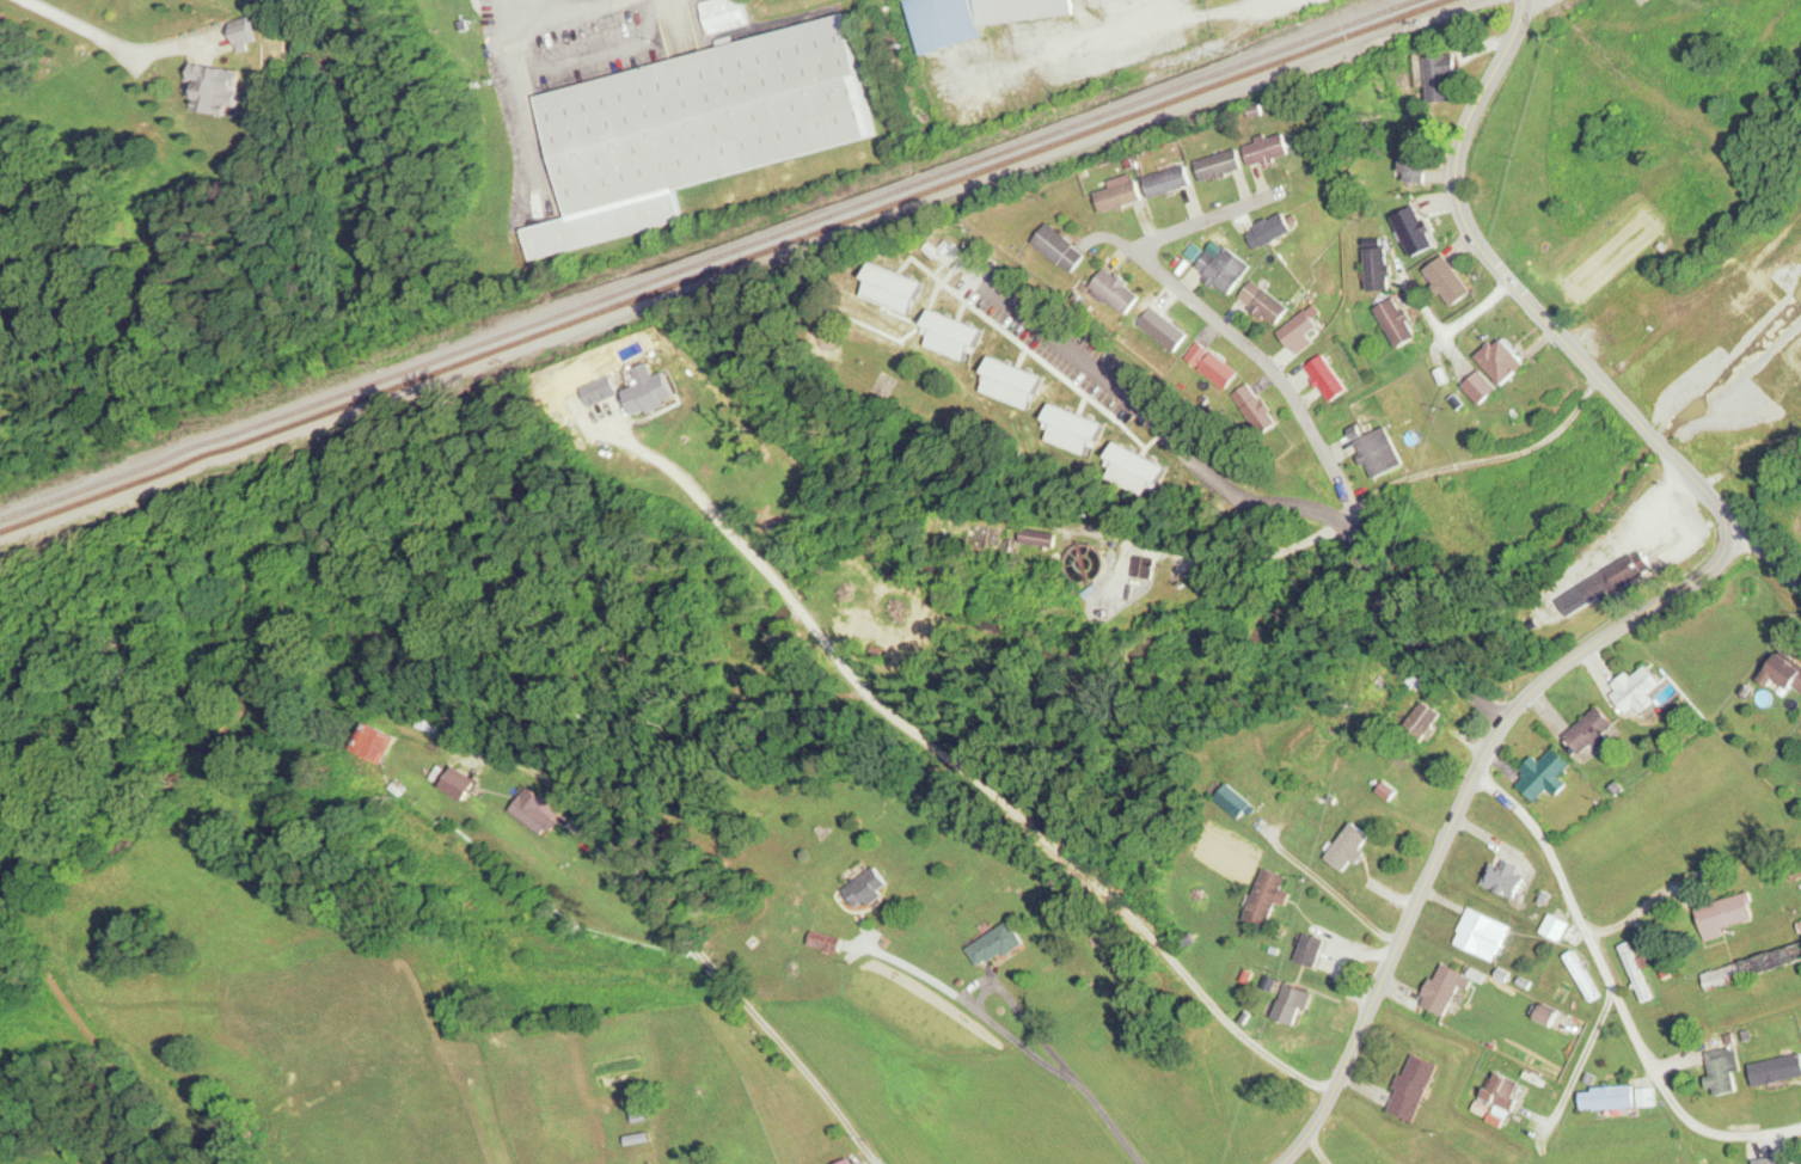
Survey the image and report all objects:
building: (723, 14)
road: (61, 22)
building: (249, 37)
building: (987, 51)
building: (1442, 78)
building: (216, 87)
building: (697, 129)
building: (1269, 149)
building: (1416, 160)
building: (1221, 165)
building: (1169, 180)
building: (1121, 196)
building: (1272, 231)
building: (1416, 231)
building: (1061, 249)
railway: (704, 259)
railway: (719, 265)
building: (1225, 268)
building: (1379, 269)
road: (1509, 280)
building: (1450, 281)
building: (895, 288)
building: (1117, 292)
building: (1266, 302)
building: (1399, 323)
road: (1452, 329)
building: (1165, 330)
building: (1303, 331)
building: (955, 337)
building: (1503, 360)
building: (1213, 366)
building: (1329, 378)
building: (1015, 384)
building: (1483, 387)
river: (1738, 394)
road: (1305, 416)
building: (1076, 431)
river: (1661, 439)
building: (1378, 451)
building: (1139, 468)
road: (1267, 506)
building: (969, 533)
building: (1041, 539)
road: (1762, 547)
river: (1532, 556)
building: (1616, 578)
river: (1374, 580)
river: (673, 623)
building: (1788, 670)
building: (1636, 691)
building: (1425, 722)
building: (1593, 730)
building: (378, 742)
building: (1546, 776)
building: (464, 784)
road: (1462, 797)
building: (1237, 802)
building: (538, 811)
building: (1350, 846)
building: (1506, 878)
building: (869, 888)
building: (1267, 896)
building: (1727, 914)
building: (1556, 926)
building: (1483, 933)
building: (997, 944)
building: (1312, 949)
building: (1753, 967)
building: (1637, 972)
building: (1583, 975)
building: (1444, 988)
road: (1615, 991)
building: (1291, 1012)
building: (1550, 1016)
building: (1723, 1068)
building: (1777, 1070)
road: (1059, 1071)
building: (1414, 1088)
building: (1500, 1092)
building: (1609, 1097)
building: (1647, 1097)
road: (1317, 1151)
building: (1774, 1160)
building: (849, 1162)

